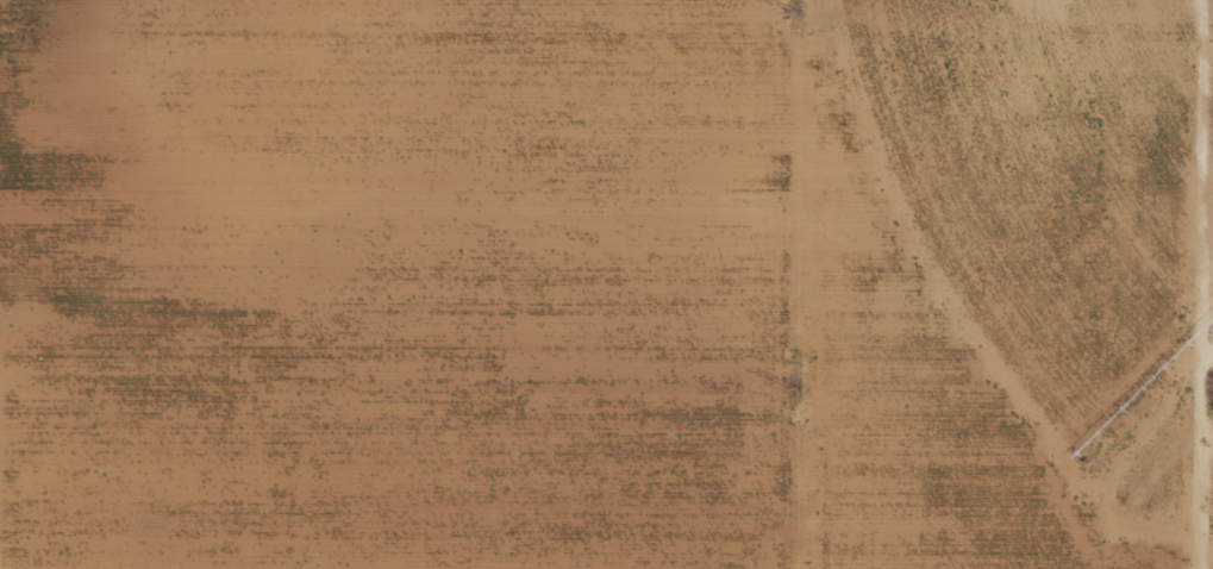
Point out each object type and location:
power tower: (795, 12)
power tower: (794, 389)

